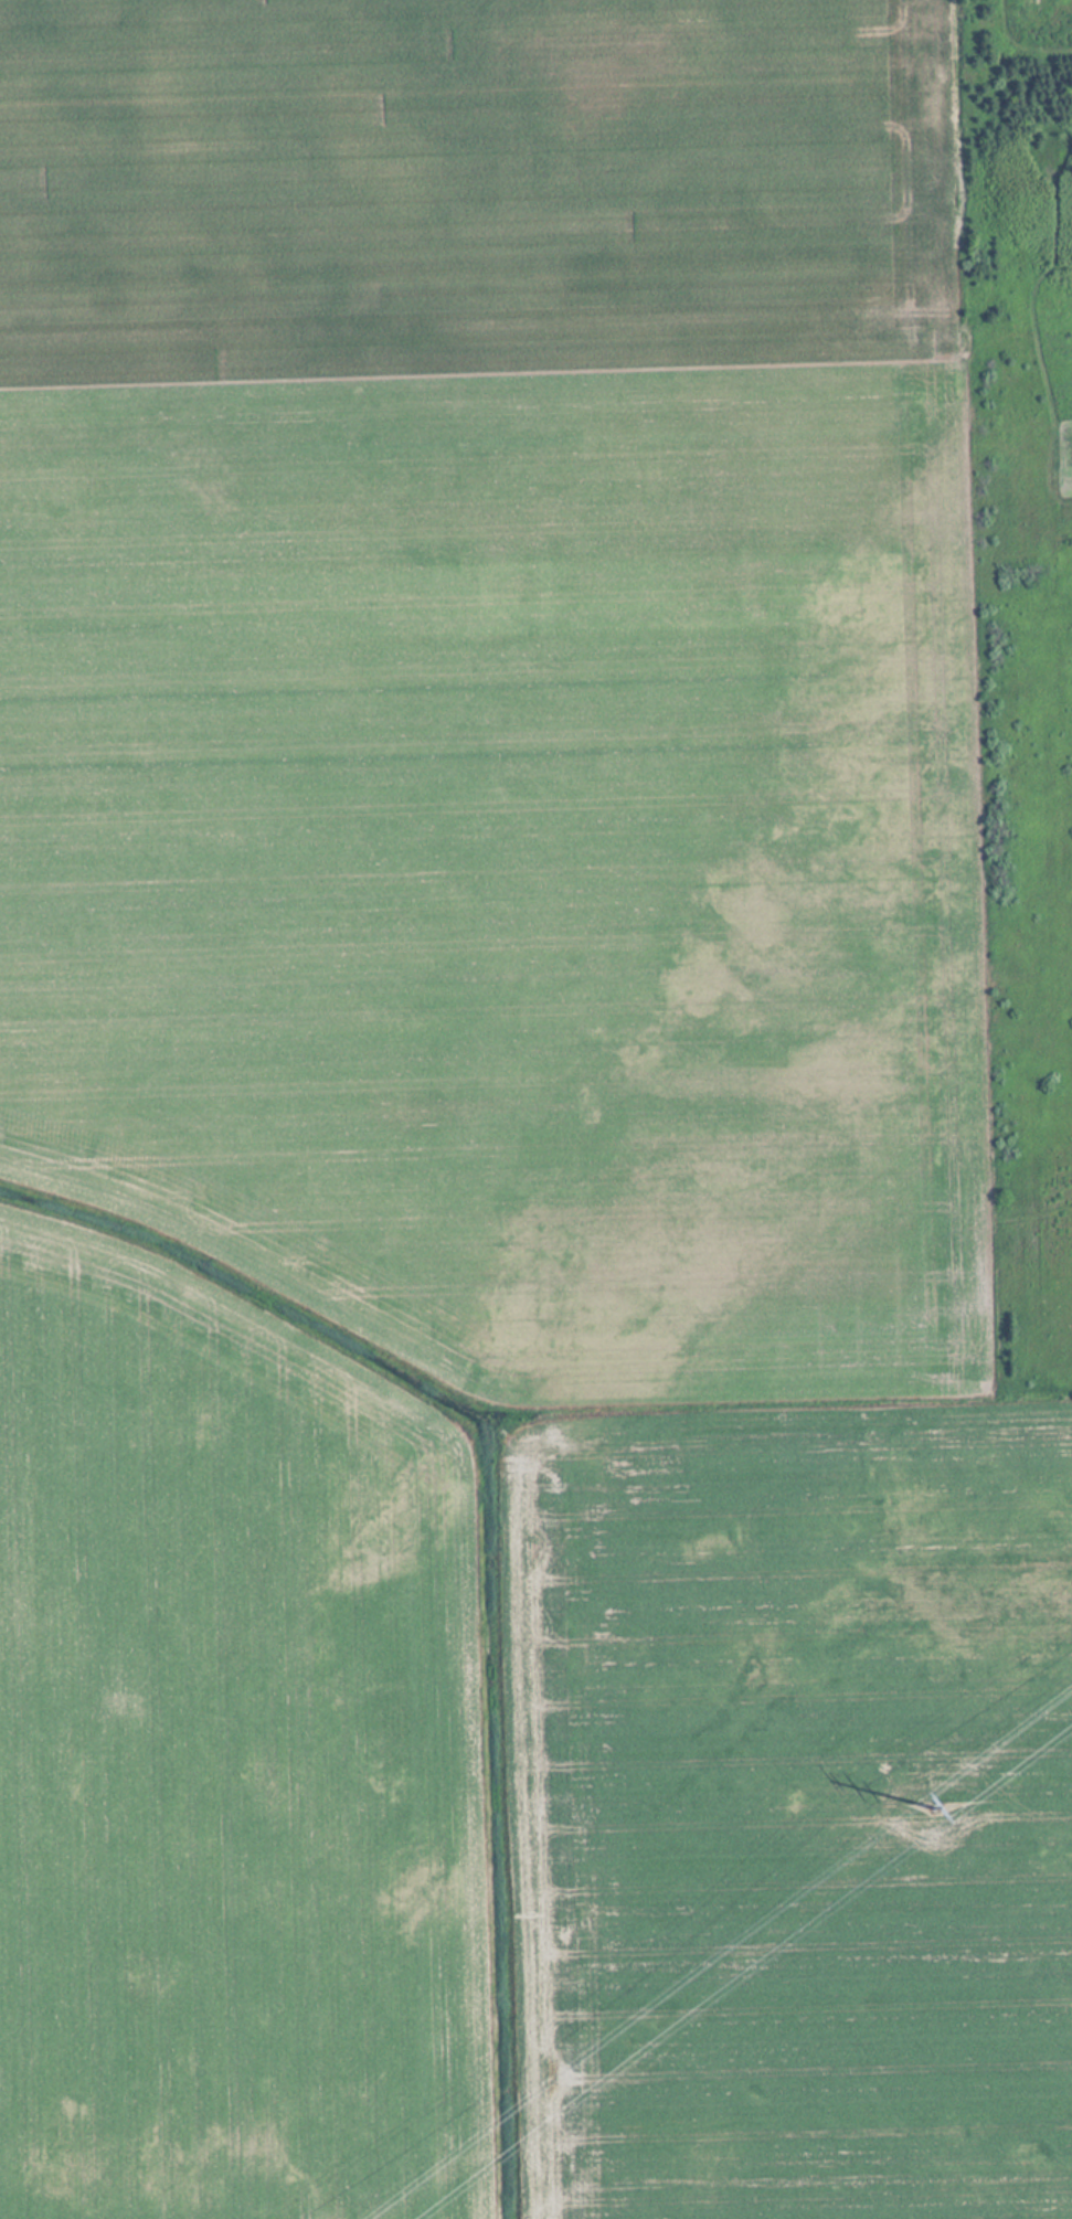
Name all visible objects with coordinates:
power tower: (936, 1799)

